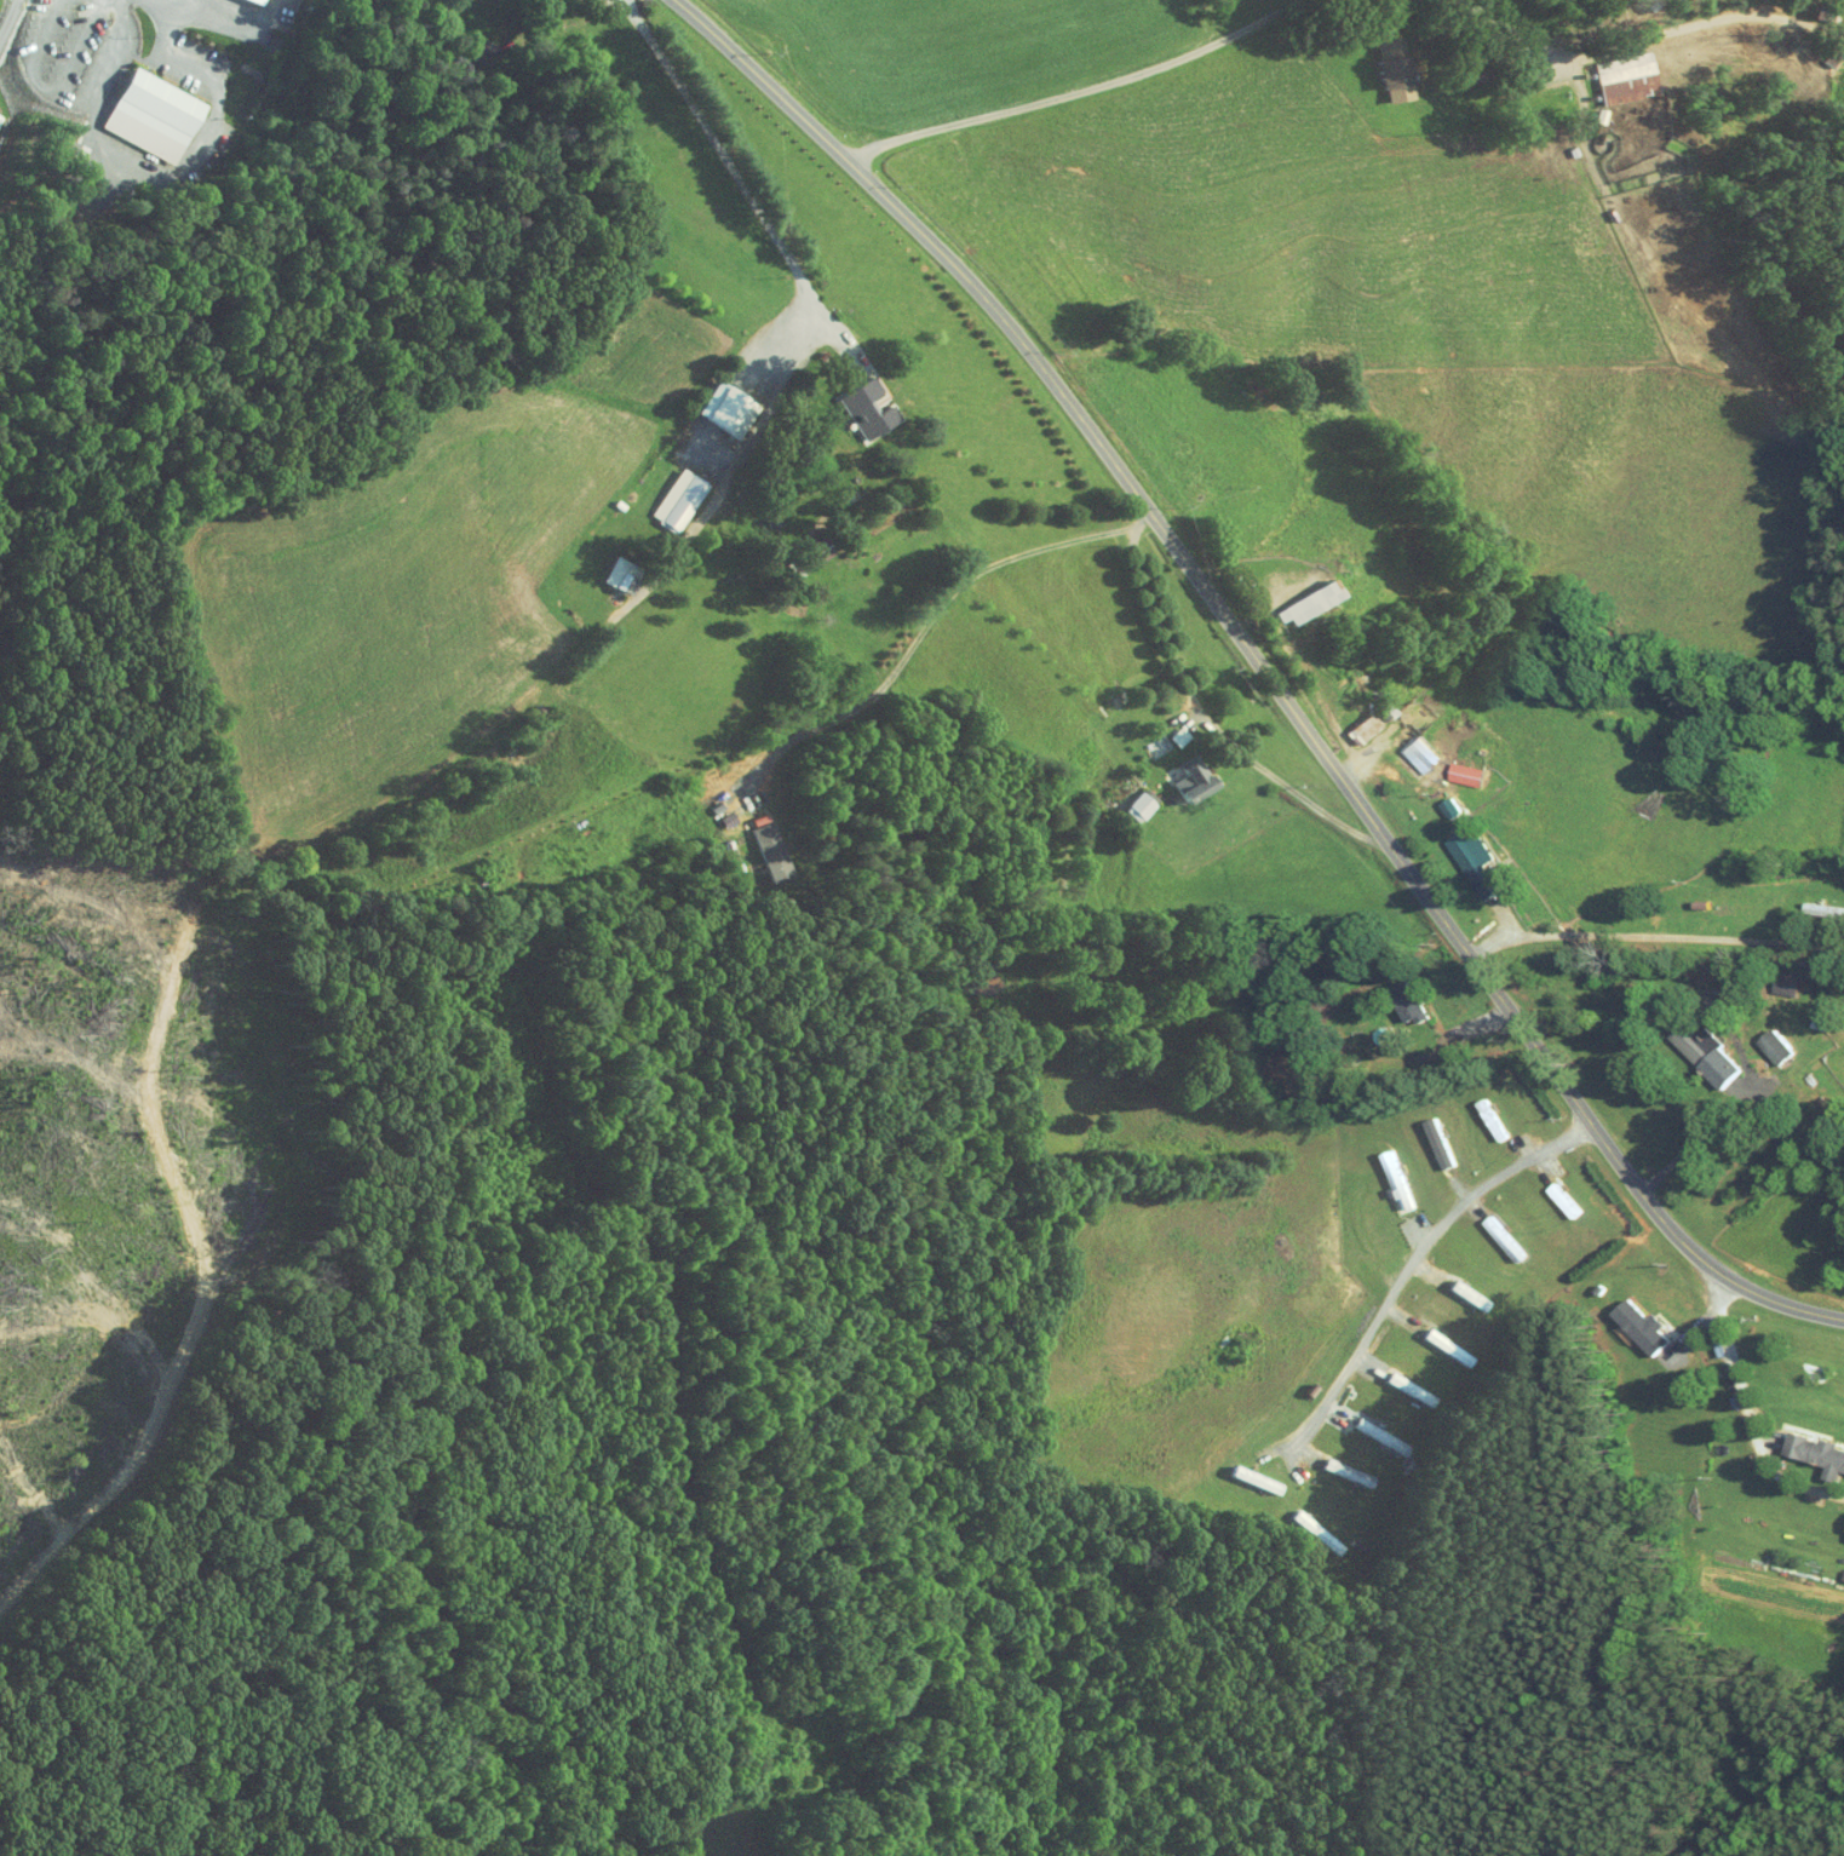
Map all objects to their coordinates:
building: (243, 1)
road: (1334, 7)
building: (1381, 61)
building: (1612, 70)
building: (150, 107)
road: (739, 180)
building: (714, 401)
building: (855, 401)
building: (666, 493)
building: (805, 542)
building: (610, 567)
building: (1297, 594)
road: (929, 621)
road: (1260, 668)
road: (1211, 720)
building: (1350, 722)
building: (1166, 729)
building: (1407, 747)
building: (1452, 766)
building: (1180, 772)
building: (1126, 799)
building: (1437, 801)
building: (758, 844)
building: (1461, 854)
building: (1816, 904)
road: (1654, 937)
building: (1397, 995)
building: (1763, 1040)
building: (1696, 1047)
building: (1426, 1137)
building: (1388, 1182)
road: (1406, 1272)
building: (1628, 1320)
road: (1746, 1413)
building: (1811, 1448)
building: (1335, 1465)
building: (1840, 1523)

